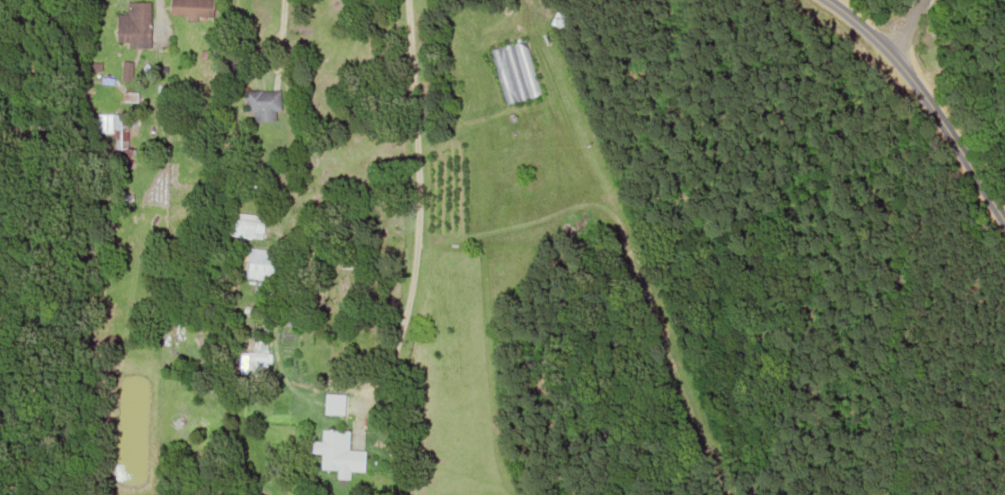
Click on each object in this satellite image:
building: (186, 9)
road: (158, 18)
building: (133, 25)
road: (907, 29)
building: (514, 72)
road: (921, 98)
building: (261, 101)
building: (119, 132)
building: (238, 225)
road: (413, 249)
building: (260, 265)
building: (328, 444)

